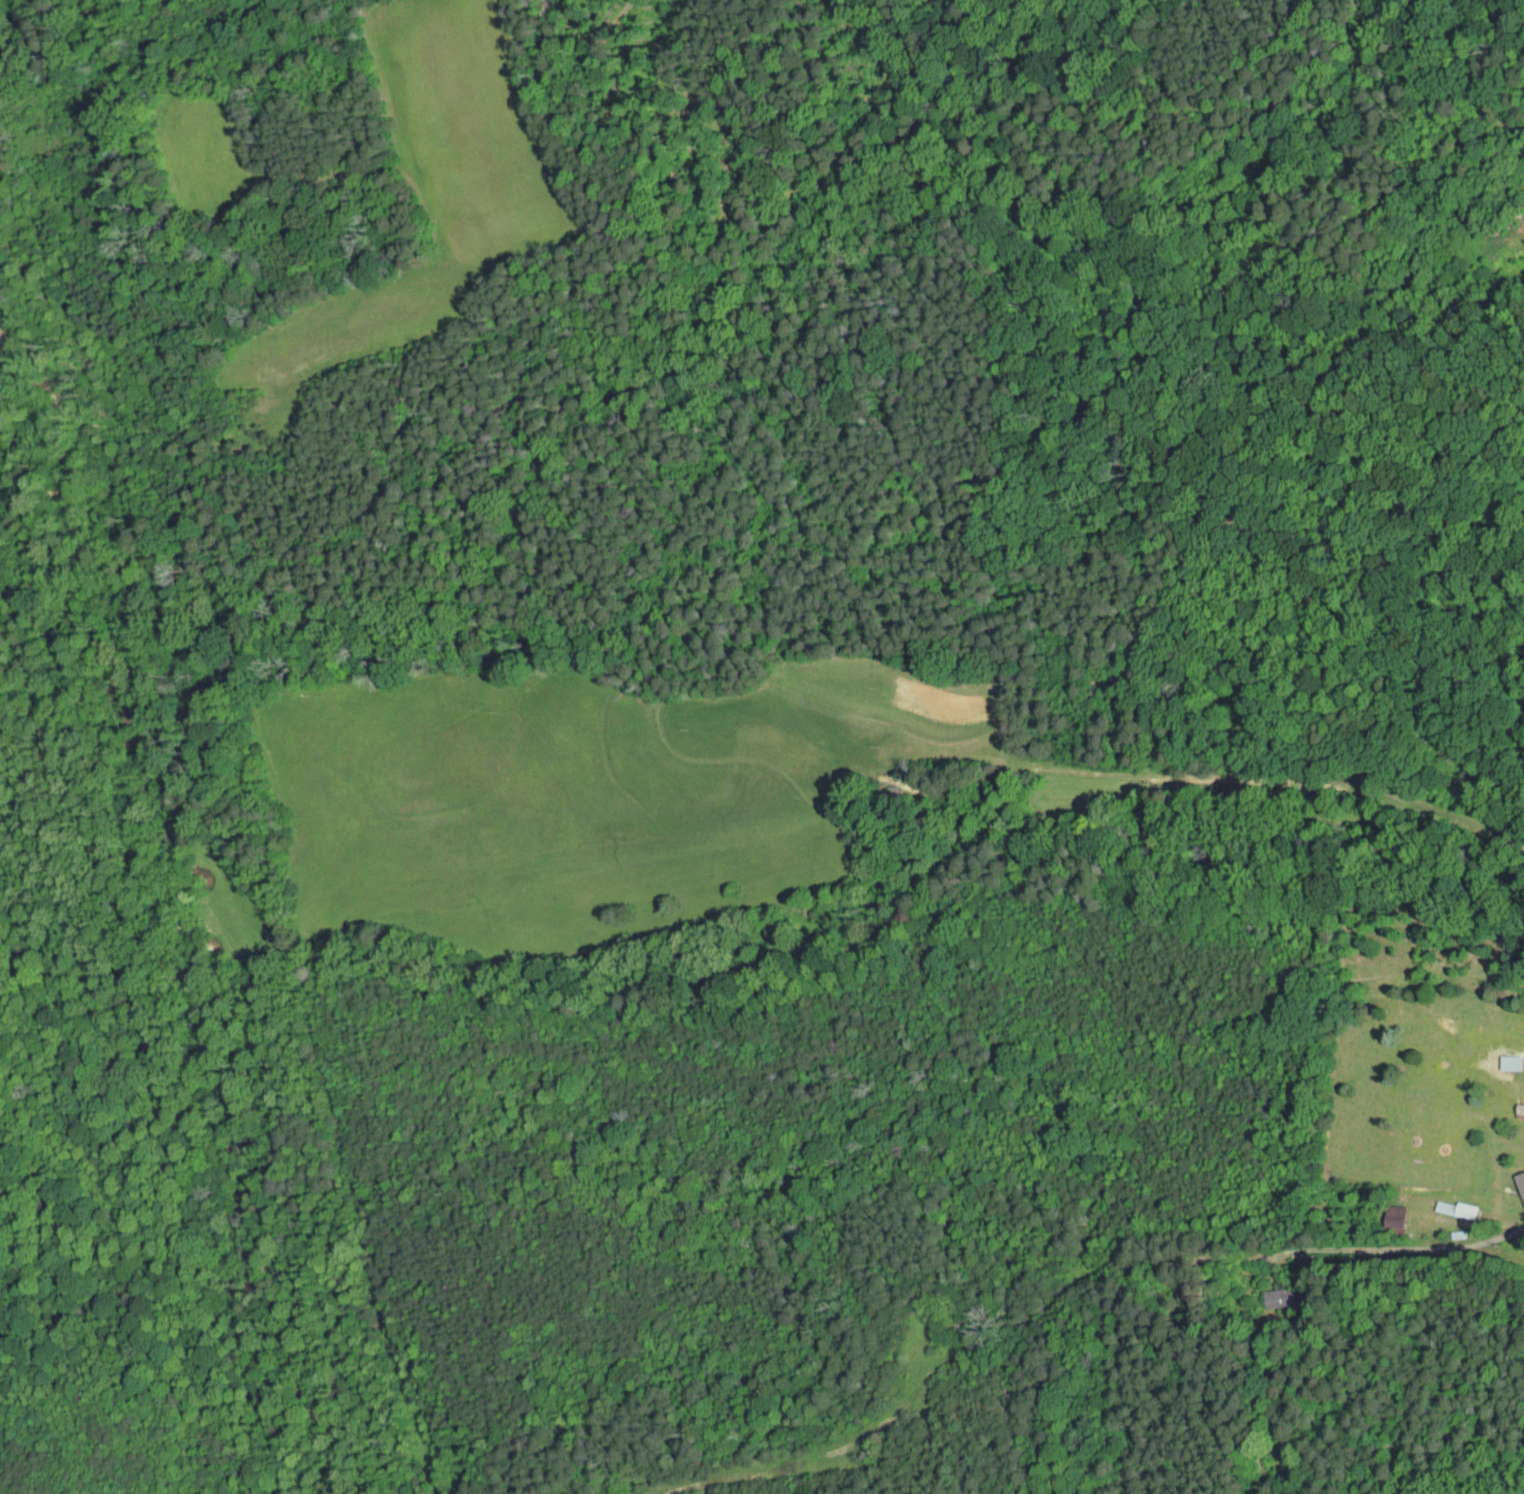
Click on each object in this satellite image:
building: (1496, 1056)
building: (1521, 1110)
building: (1513, 1183)
building: (1444, 1203)
road: (1372, 1247)
building: (1266, 1292)

